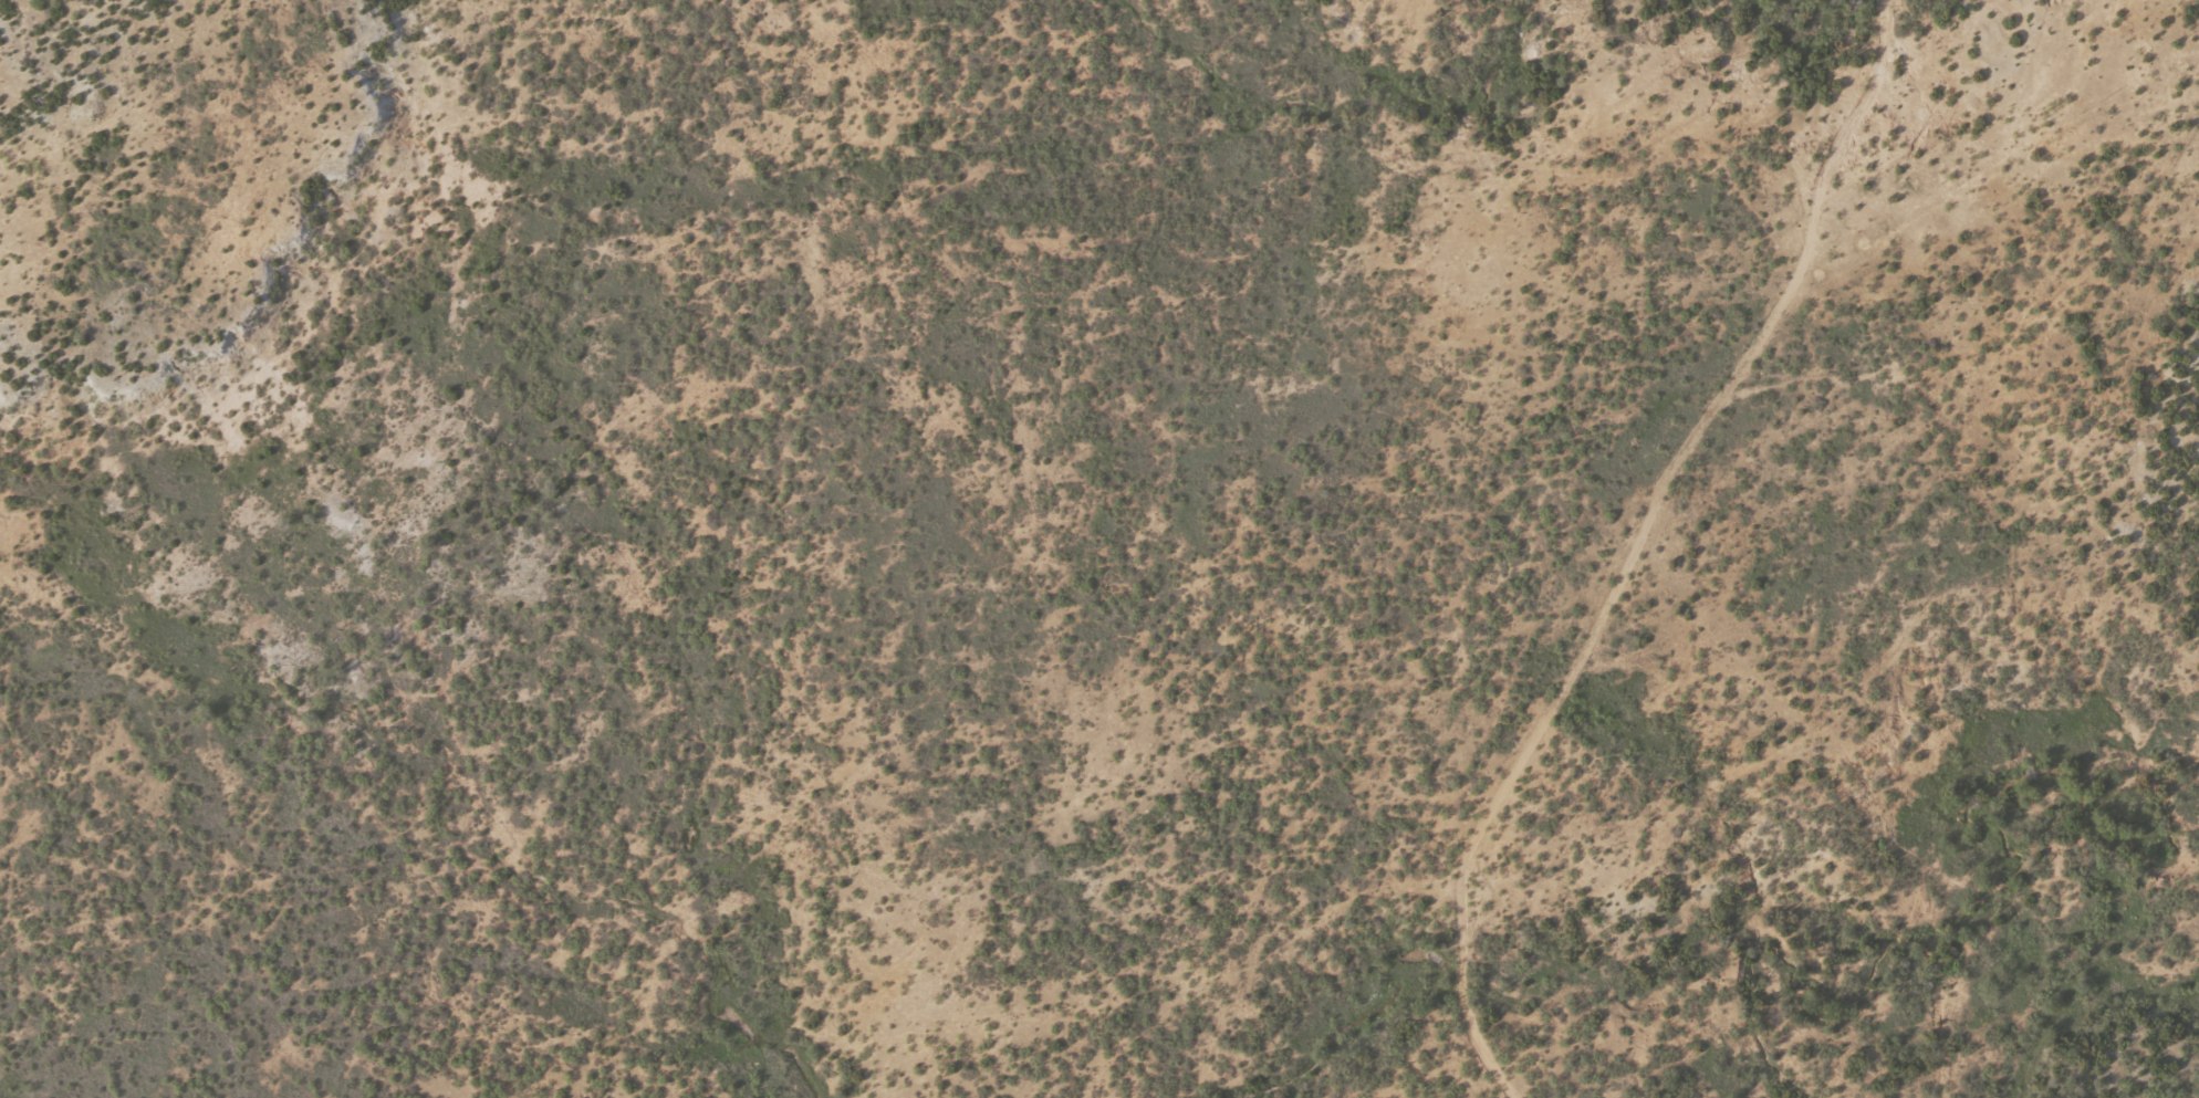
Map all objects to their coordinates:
road: (1590, 534)

